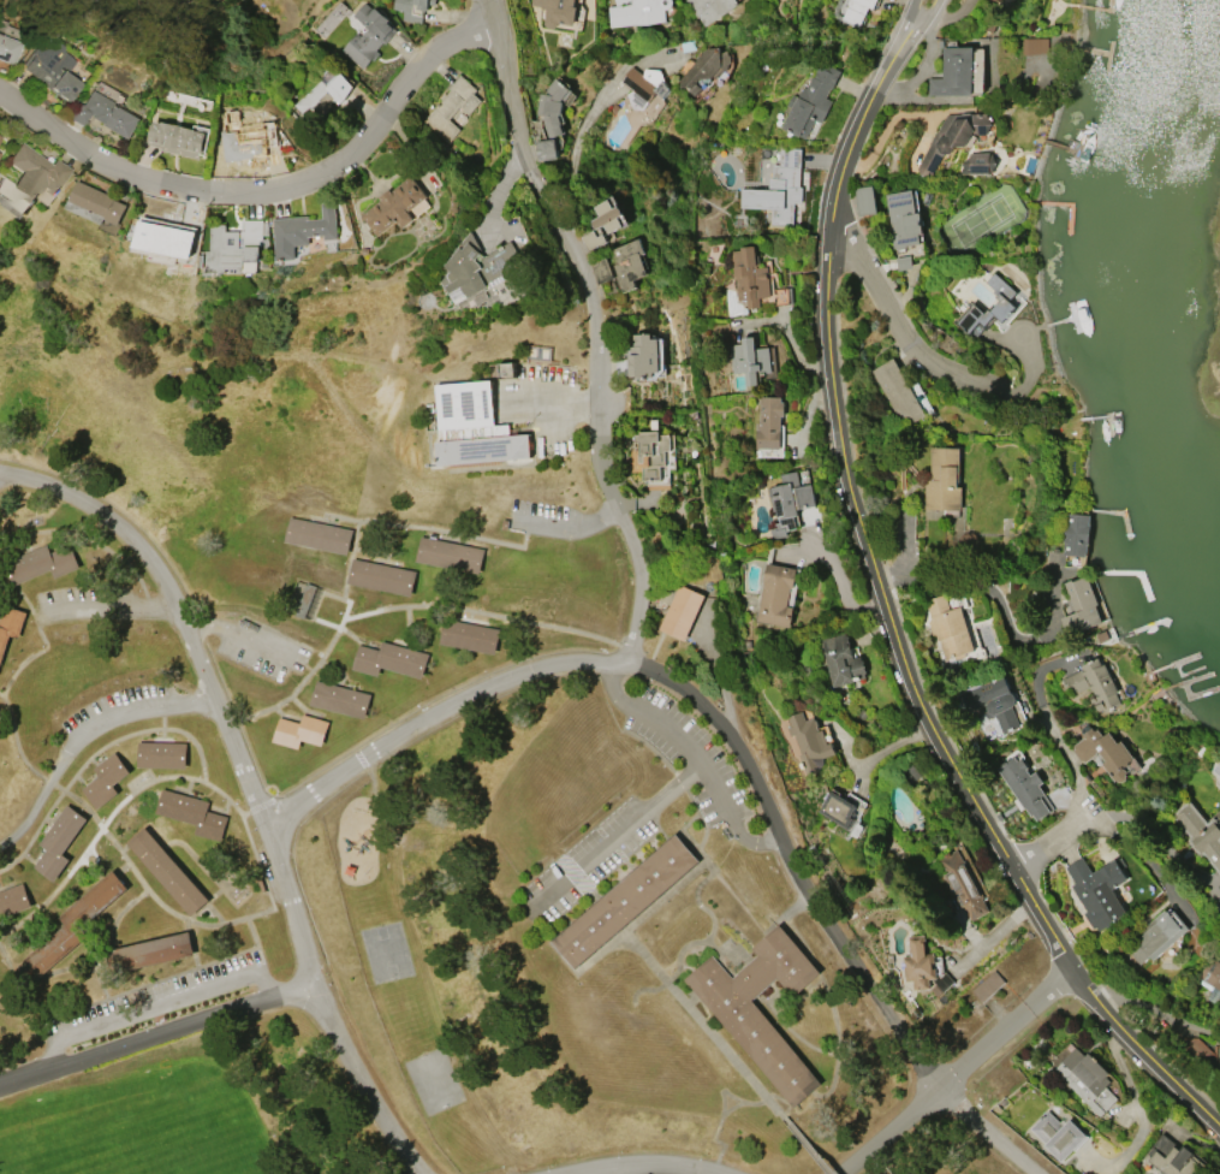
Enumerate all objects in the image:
building: (1002, 0)
building: (412, 8)
building: (709, 8)
building: (857, 10)
building: (558, 11)
building: (637, 11)
building: (369, 35)
road: (894, 45)
building: (1034, 45)
road: (910, 46)
building: (8, 49)
building: (704, 67)
building: (50, 69)
building: (958, 72)
building: (643, 85)
building: (108, 93)
building: (322, 93)
building: (811, 100)
building: (452, 107)
building: (553, 107)
building: (105, 114)
road: (887, 128)
building: (0, 137)
building: (174, 137)
building: (952, 137)
building: (249, 141)
building: (546, 149)
building: (0, 153)
road: (573, 159)
building: (977, 164)
building: (31, 177)
building: (778, 189)
road: (268, 191)
building: (865, 198)
building: (97, 206)
building: (393, 206)
building: (607, 215)
building: (903, 218)
building: (303, 231)
building: (166, 237)
building: (590, 239)
building: (236, 247)
building: (629, 262)
building: (475, 269)
building: (601, 269)
building: (749, 275)
building: (1002, 303)
road: (893, 325)
road: (596, 328)
building: (643, 356)
building: (749, 358)
building: (901, 393)
road: (561, 398)
building: (769, 422)
building: (474, 426)
building: (653, 457)
building: (944, 479)
building: (790, 502)
road: (573, 527)
road: (438, 528)
building: (1076, 534)
building: (319, 535)
building: (450, 555)
building: (38, 563)
building: (382, 576)
building: (775, 594)
building: (1081, 605)
road: (114, 606)
building: (682, 611)
building: (10, 623)
building: (947, 625)
road: (242, 635)
building: (470, 635)
road: (899, 650)
building: (389, 658)
building: (841, 659)
building: (1094, 683)
road: (1037, 687)
building: (340, 699)
building: (993, 701)
building: (300, 730)
road: (87, 736)
building: (809, 741)
road: (736, 745)
building: (1103, 751)
building: (162, 754)
road: (694, 759)
building: (105, 779)
road: (260, 785)
building: (1025, 787)
building: (838, 808)
building: (192, 813)
building: (1200, 832)
road: (613, 835)
building: (59, 842)
building: (167, 871)
building: (962, 884)
building: (1097, 890)
building: (13, 899)
building: (625, 901)
building: (76, 923)
building: (1156, 935)
building: (153, 951)
building: (922, 966)
building: (1210, 979)
building: (988, 985)
road: (161, 1003)
road: (157, 1038)
building: (761, 1040)
building: (1198, 1050)
road: (953, 1074)
building: (1085, 1079)
building: (1058, 1134)
building: (1171, 1157)
road: (644, 1172)
road: (688, 1173)

